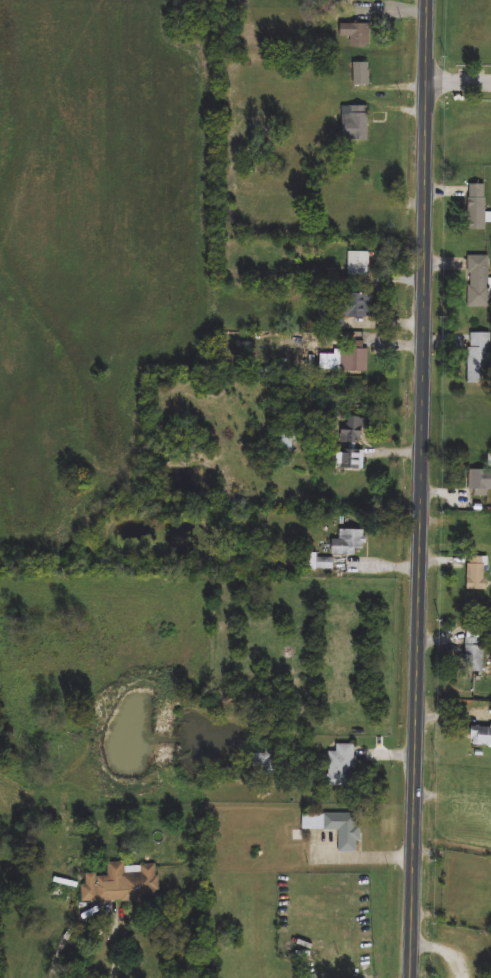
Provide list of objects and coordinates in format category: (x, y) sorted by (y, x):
building: (361, 0)
building: (356, 34)
building: (362, 75)
road: (460, 84)
building: (355, 124)
building: (477, 207)
building: (358, 263)
building: (479, 282)
building: (344, 308)
building: (353, 358)
building: (480, 358)
building: (352, 430)
building: (286, 444)
building: (347, 459)
building: (480, 481)
road: (423, 489)
building: (482, 530)
building: (349, 542)
building: (477, 574)
building: (474, 649)
building: (480, 736)
building: (265, 763)
building: (342, 767)
building: (337, 829)
road: (372, 859)
building: (123, 884)
road: (93, 911)
road: (445, 951)

